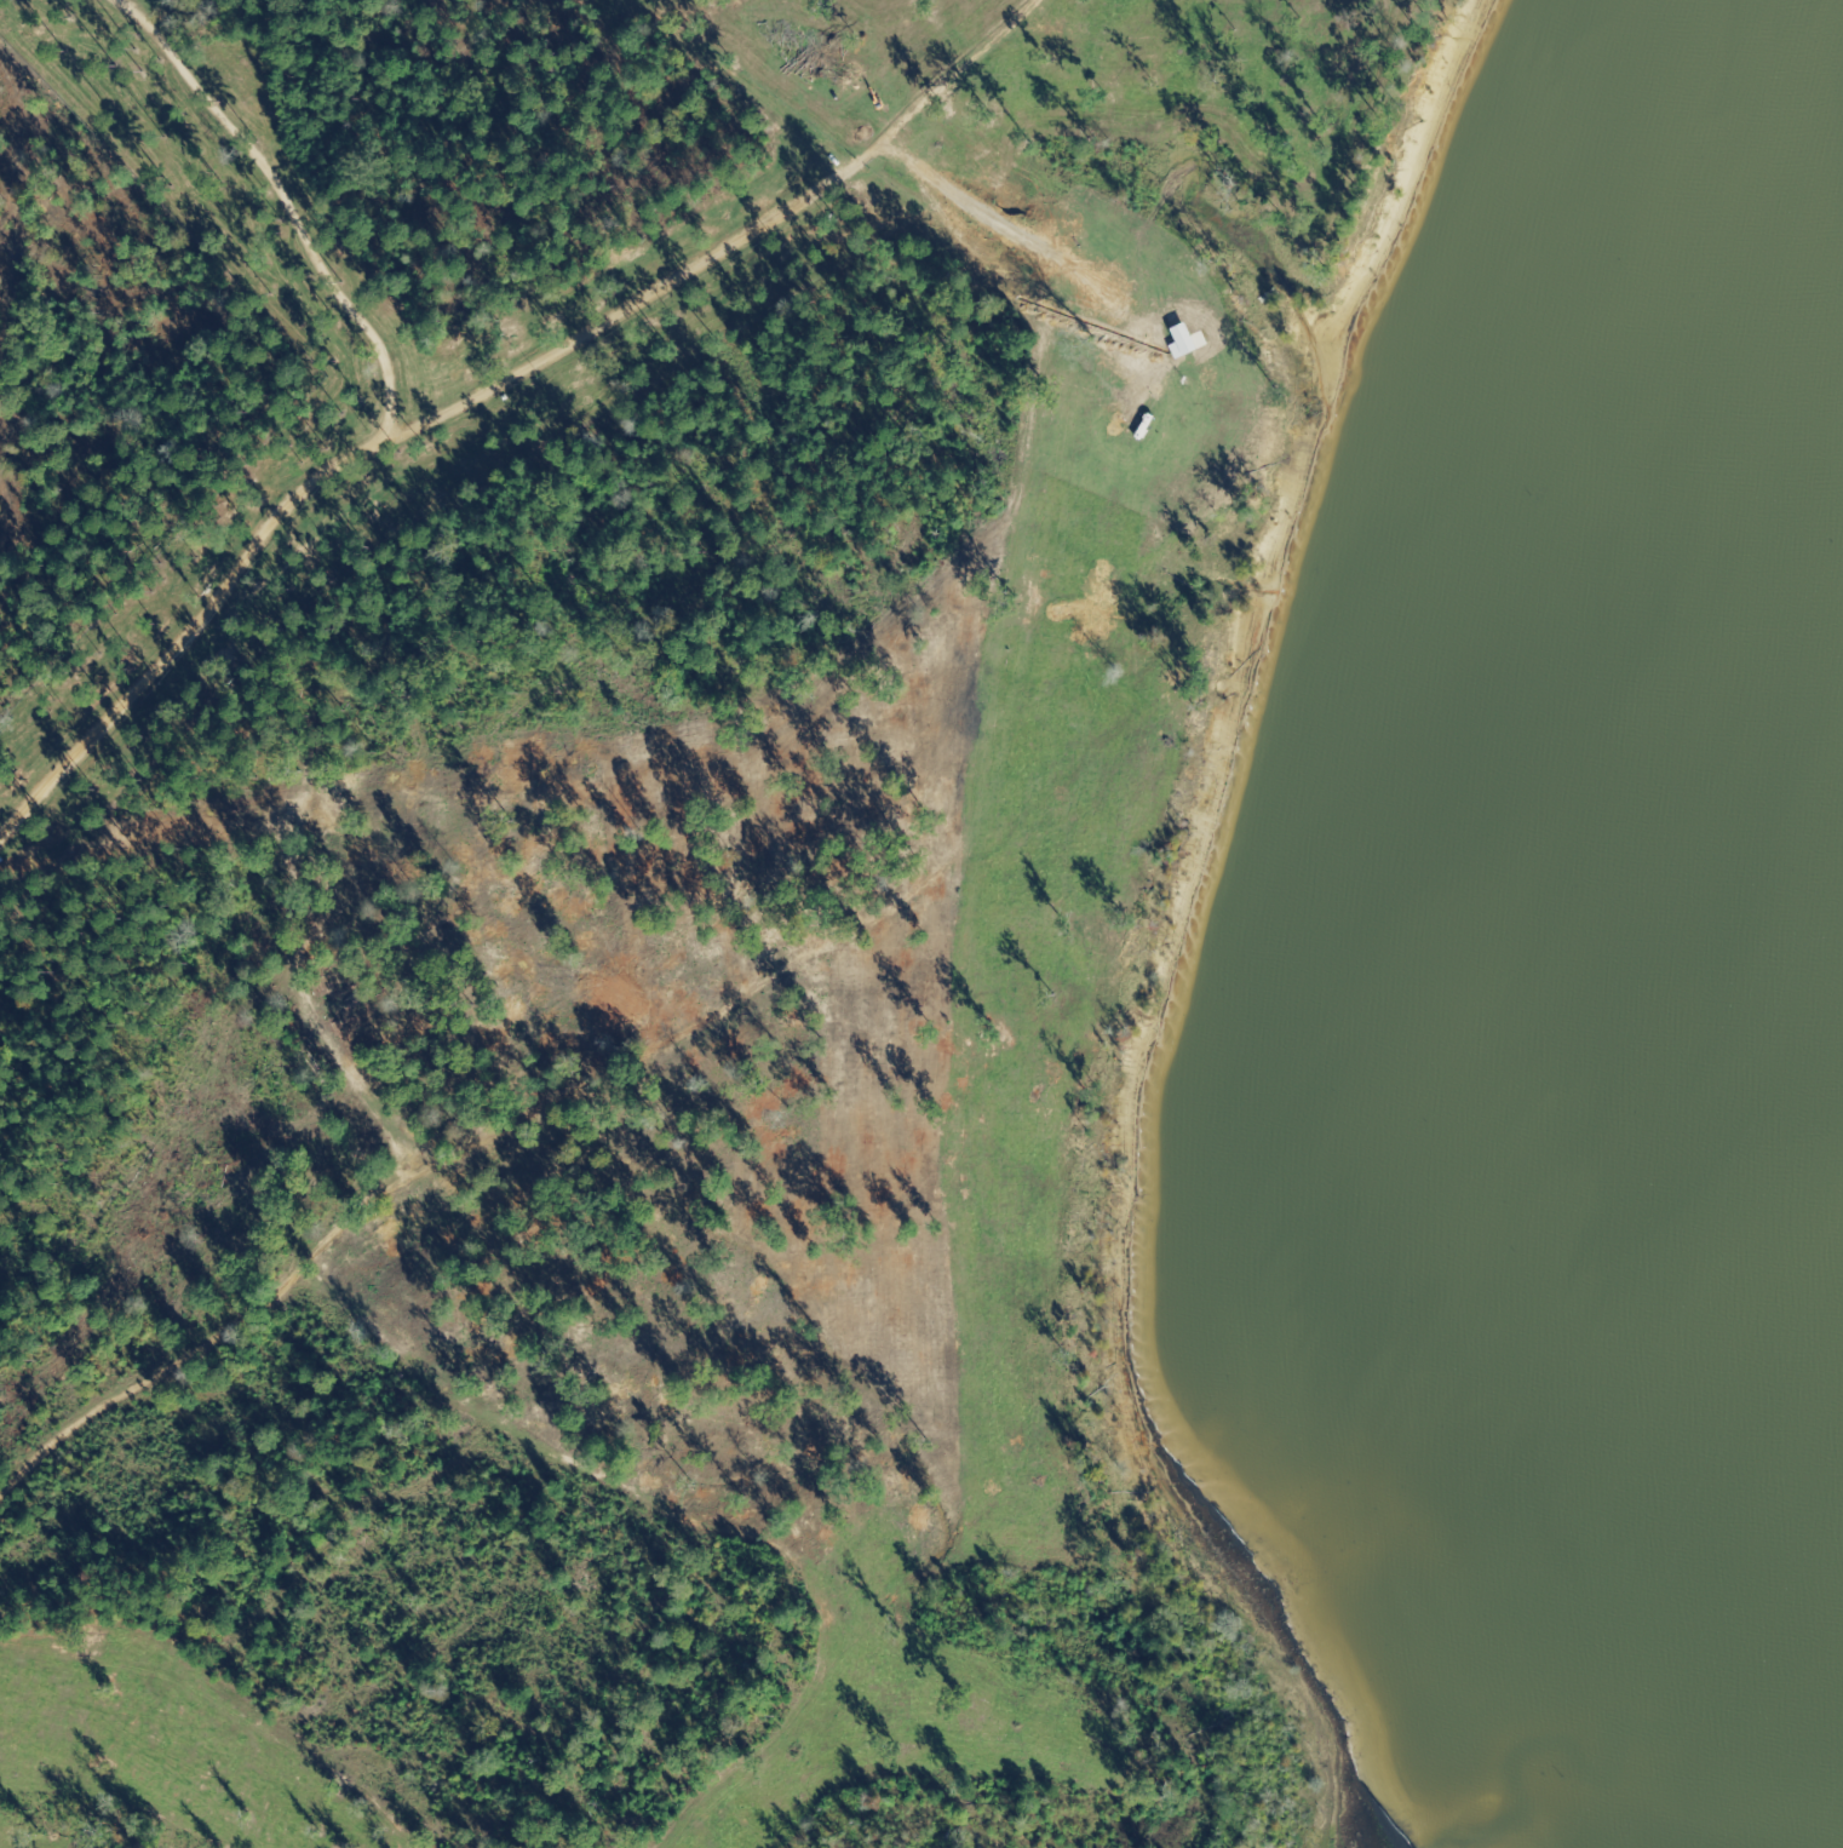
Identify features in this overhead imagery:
road: (402, 423)

